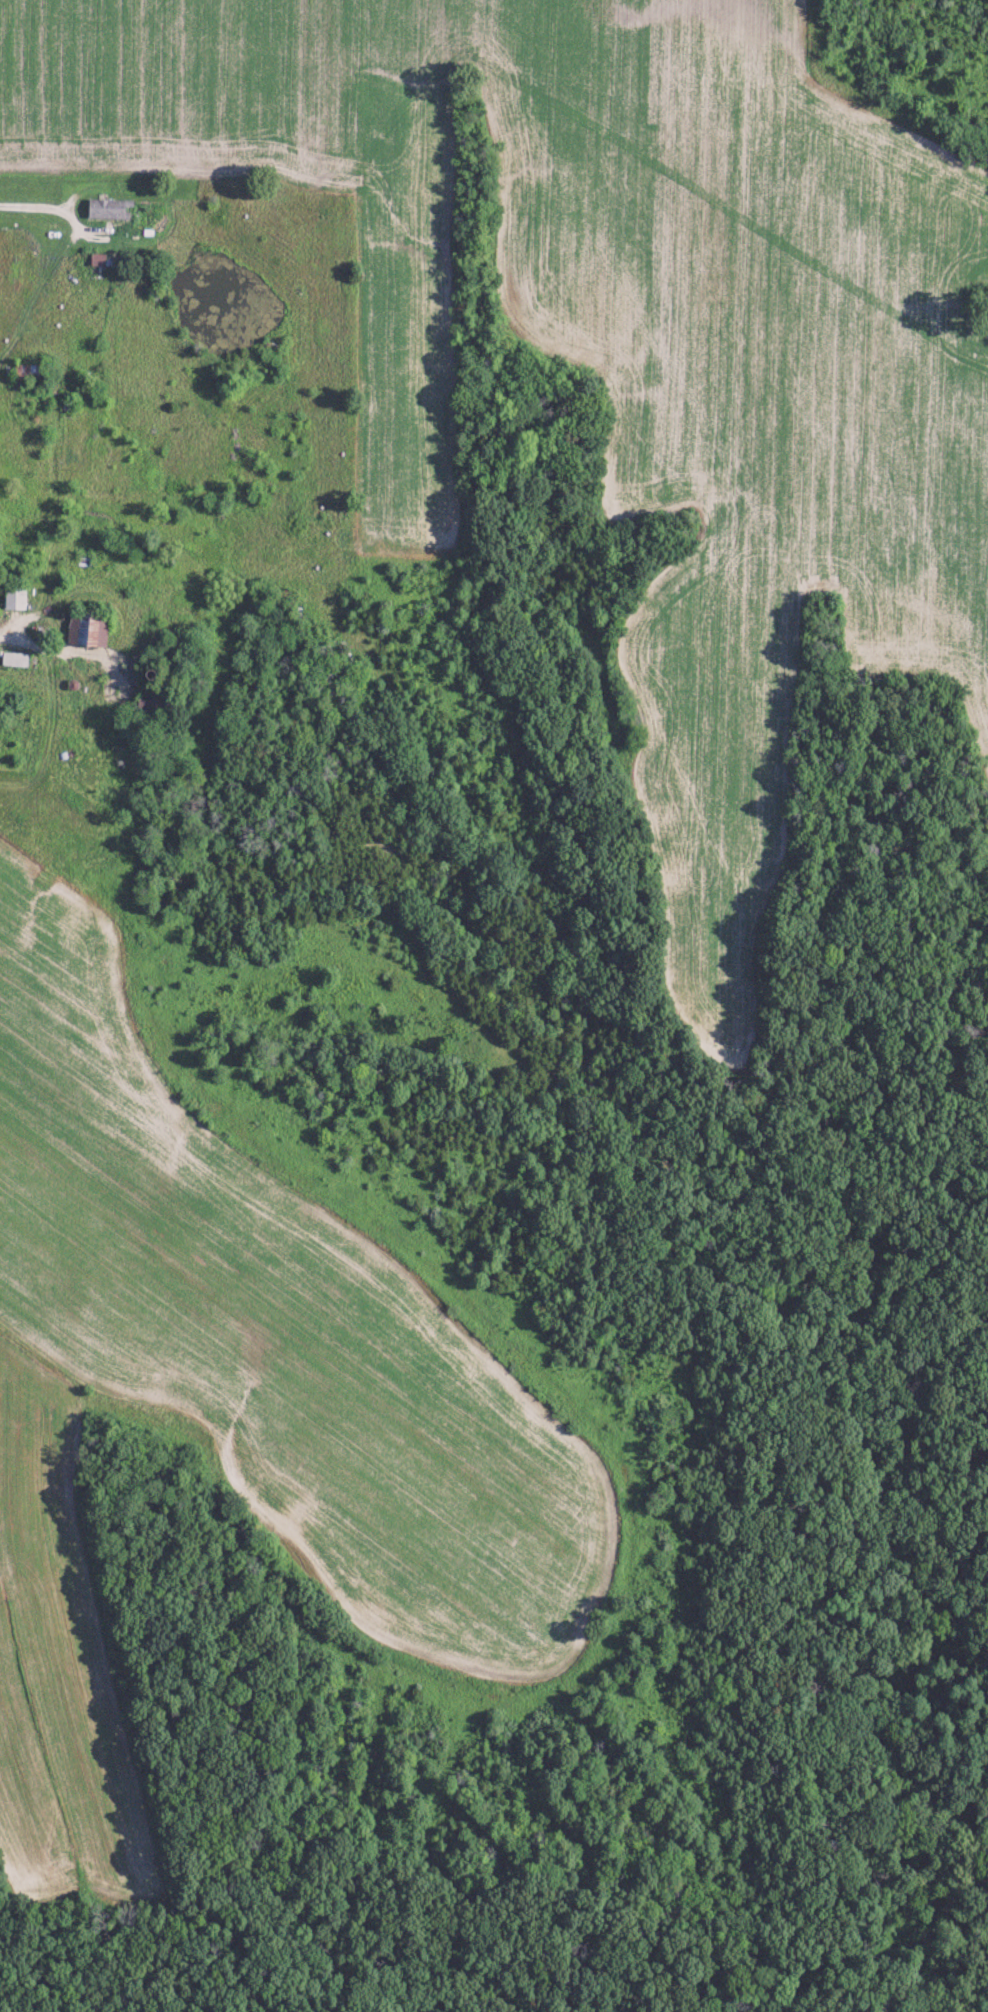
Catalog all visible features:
building: (104, 207)
building: (94, 258)
building: (26, 371)
building: (10, 596)
building: (85, 630)
building: (12, 658)

